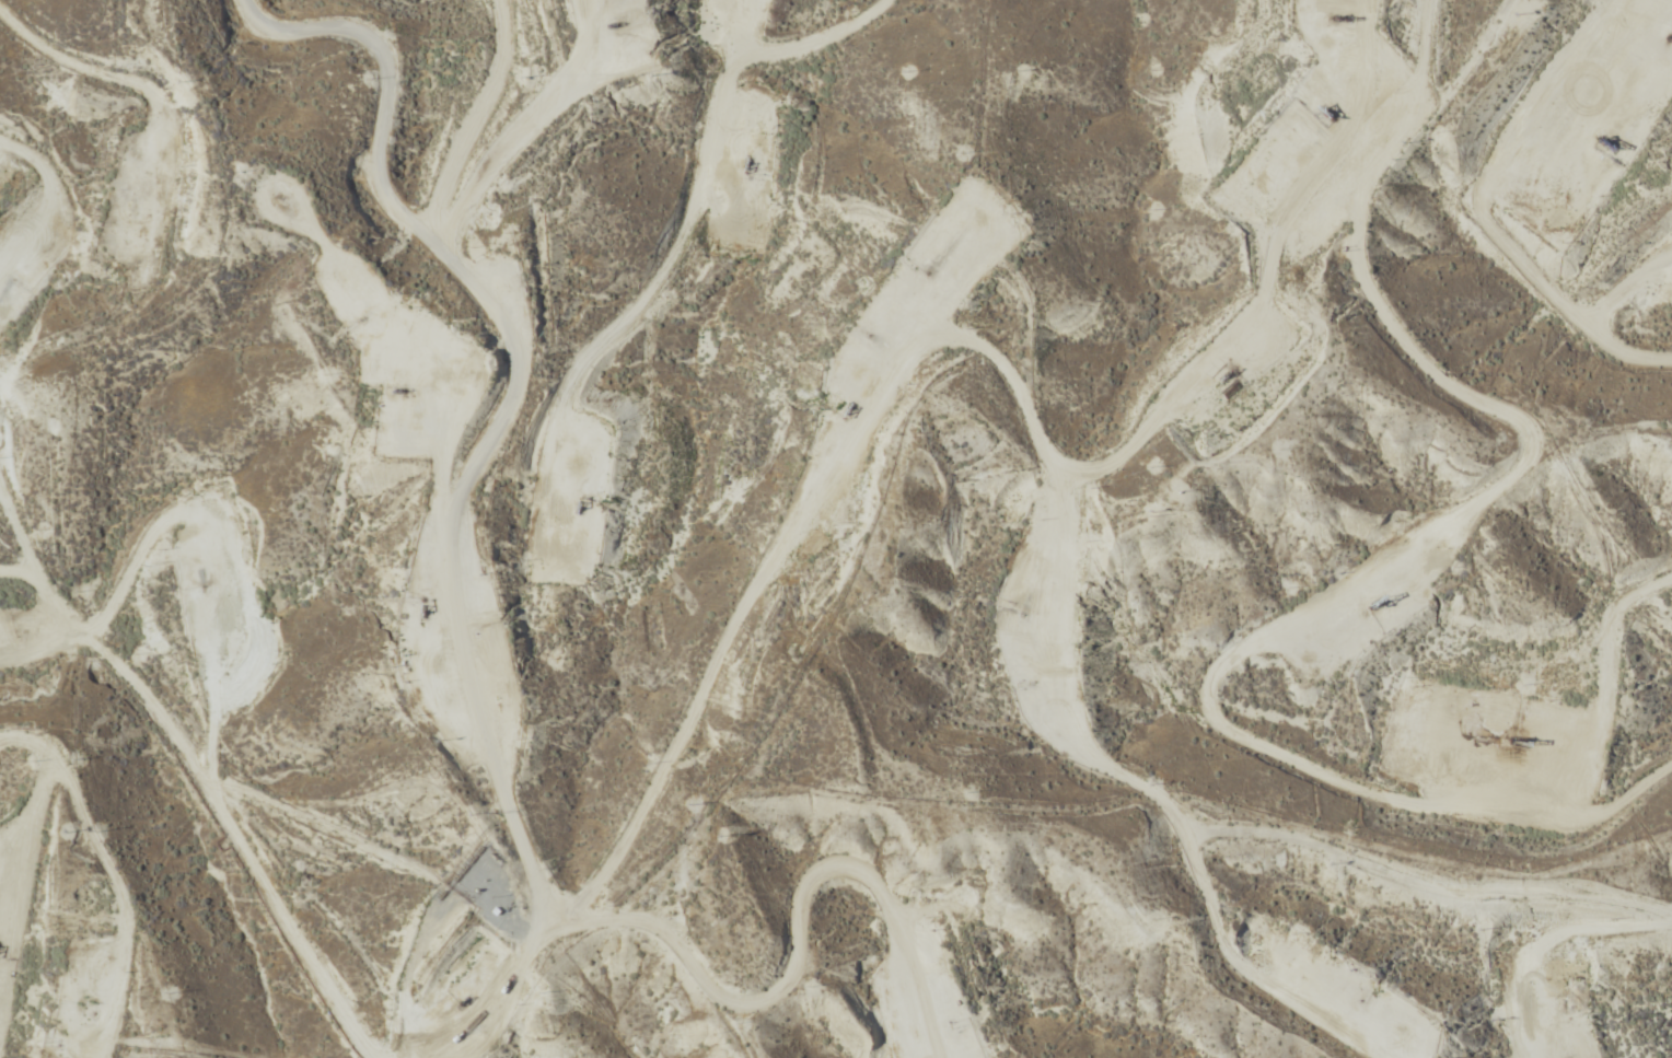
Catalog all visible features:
building: (707, 28)
road: (609, 130)
road: (67, 140)
road: (1419, 324)
road: (1057, 493)
road: (753, 596)
road: (539, 670)
building: (1579, 741)
road: (1459, 910)
road: (456, 1026)

